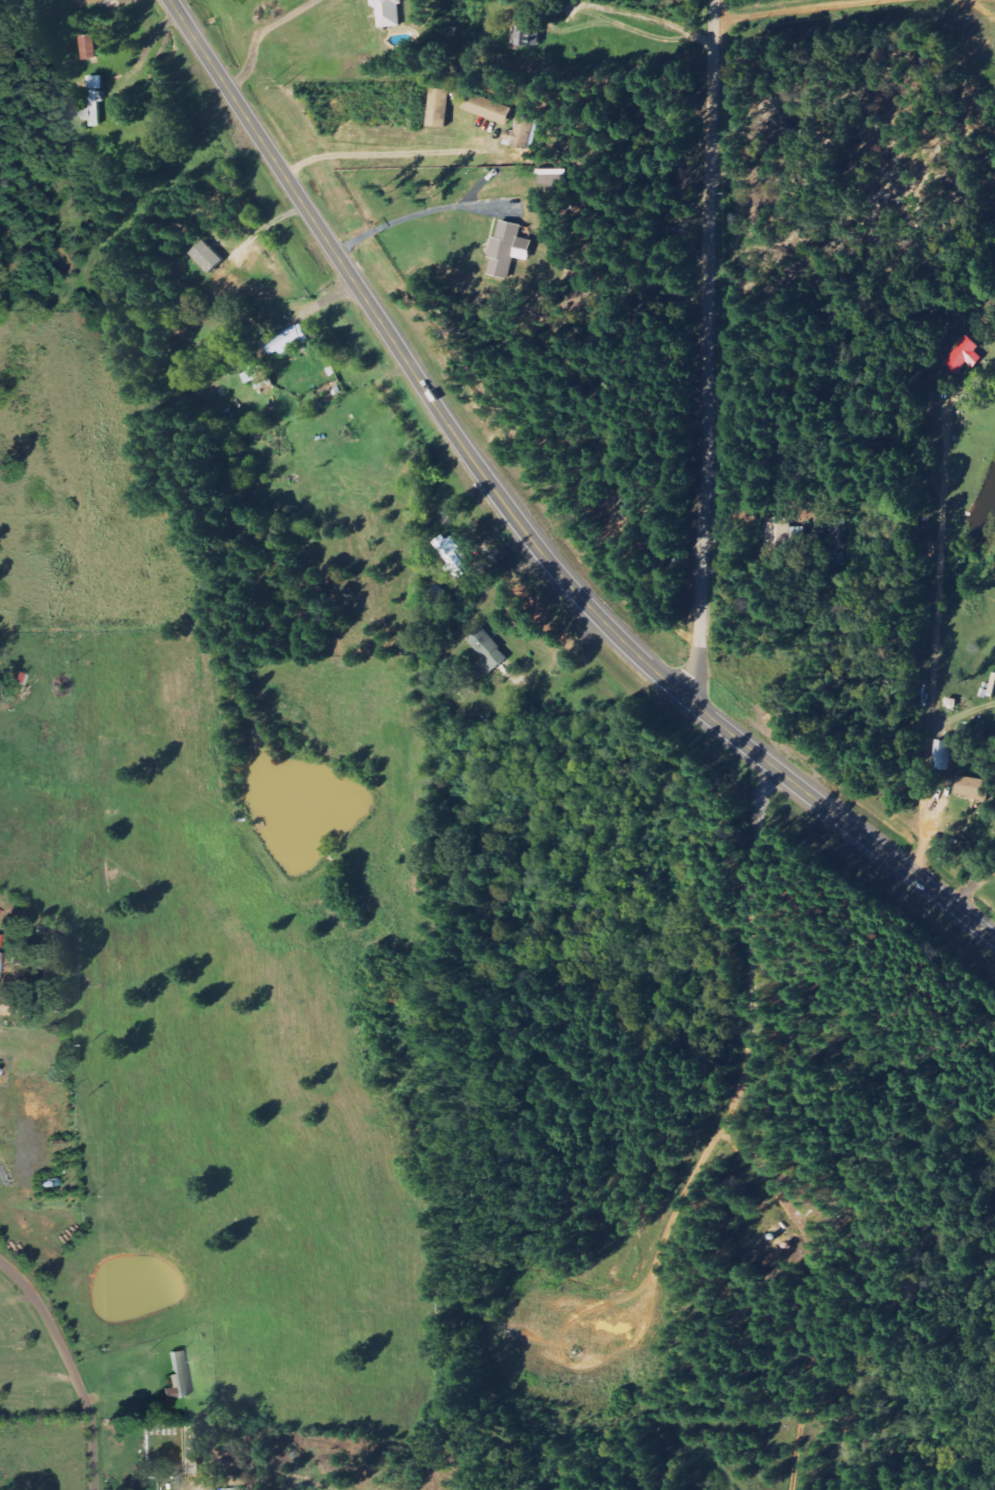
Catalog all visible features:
building: (388, 12)
road: (258, 35)
building: (524, 37)
building: (88, 47)
building: (96, 82)
building: (439, 108)
building: (93, 109)
building: (487, 109)
building: (521, 133)
building: (508, 249)
building: (207, 256)
building: (289, 341)
road: (706, 348)
building: (961, 354)
building: (252, 375)
road: (520, 524)
building: (777, 535)
building: (456, 554)
building: (489, 650)
building: (944, 754)
building: (969, 786)
road: (70, 1365)
building: (176, 1378)
building: (190, 1450)
building: (234, 1489)

